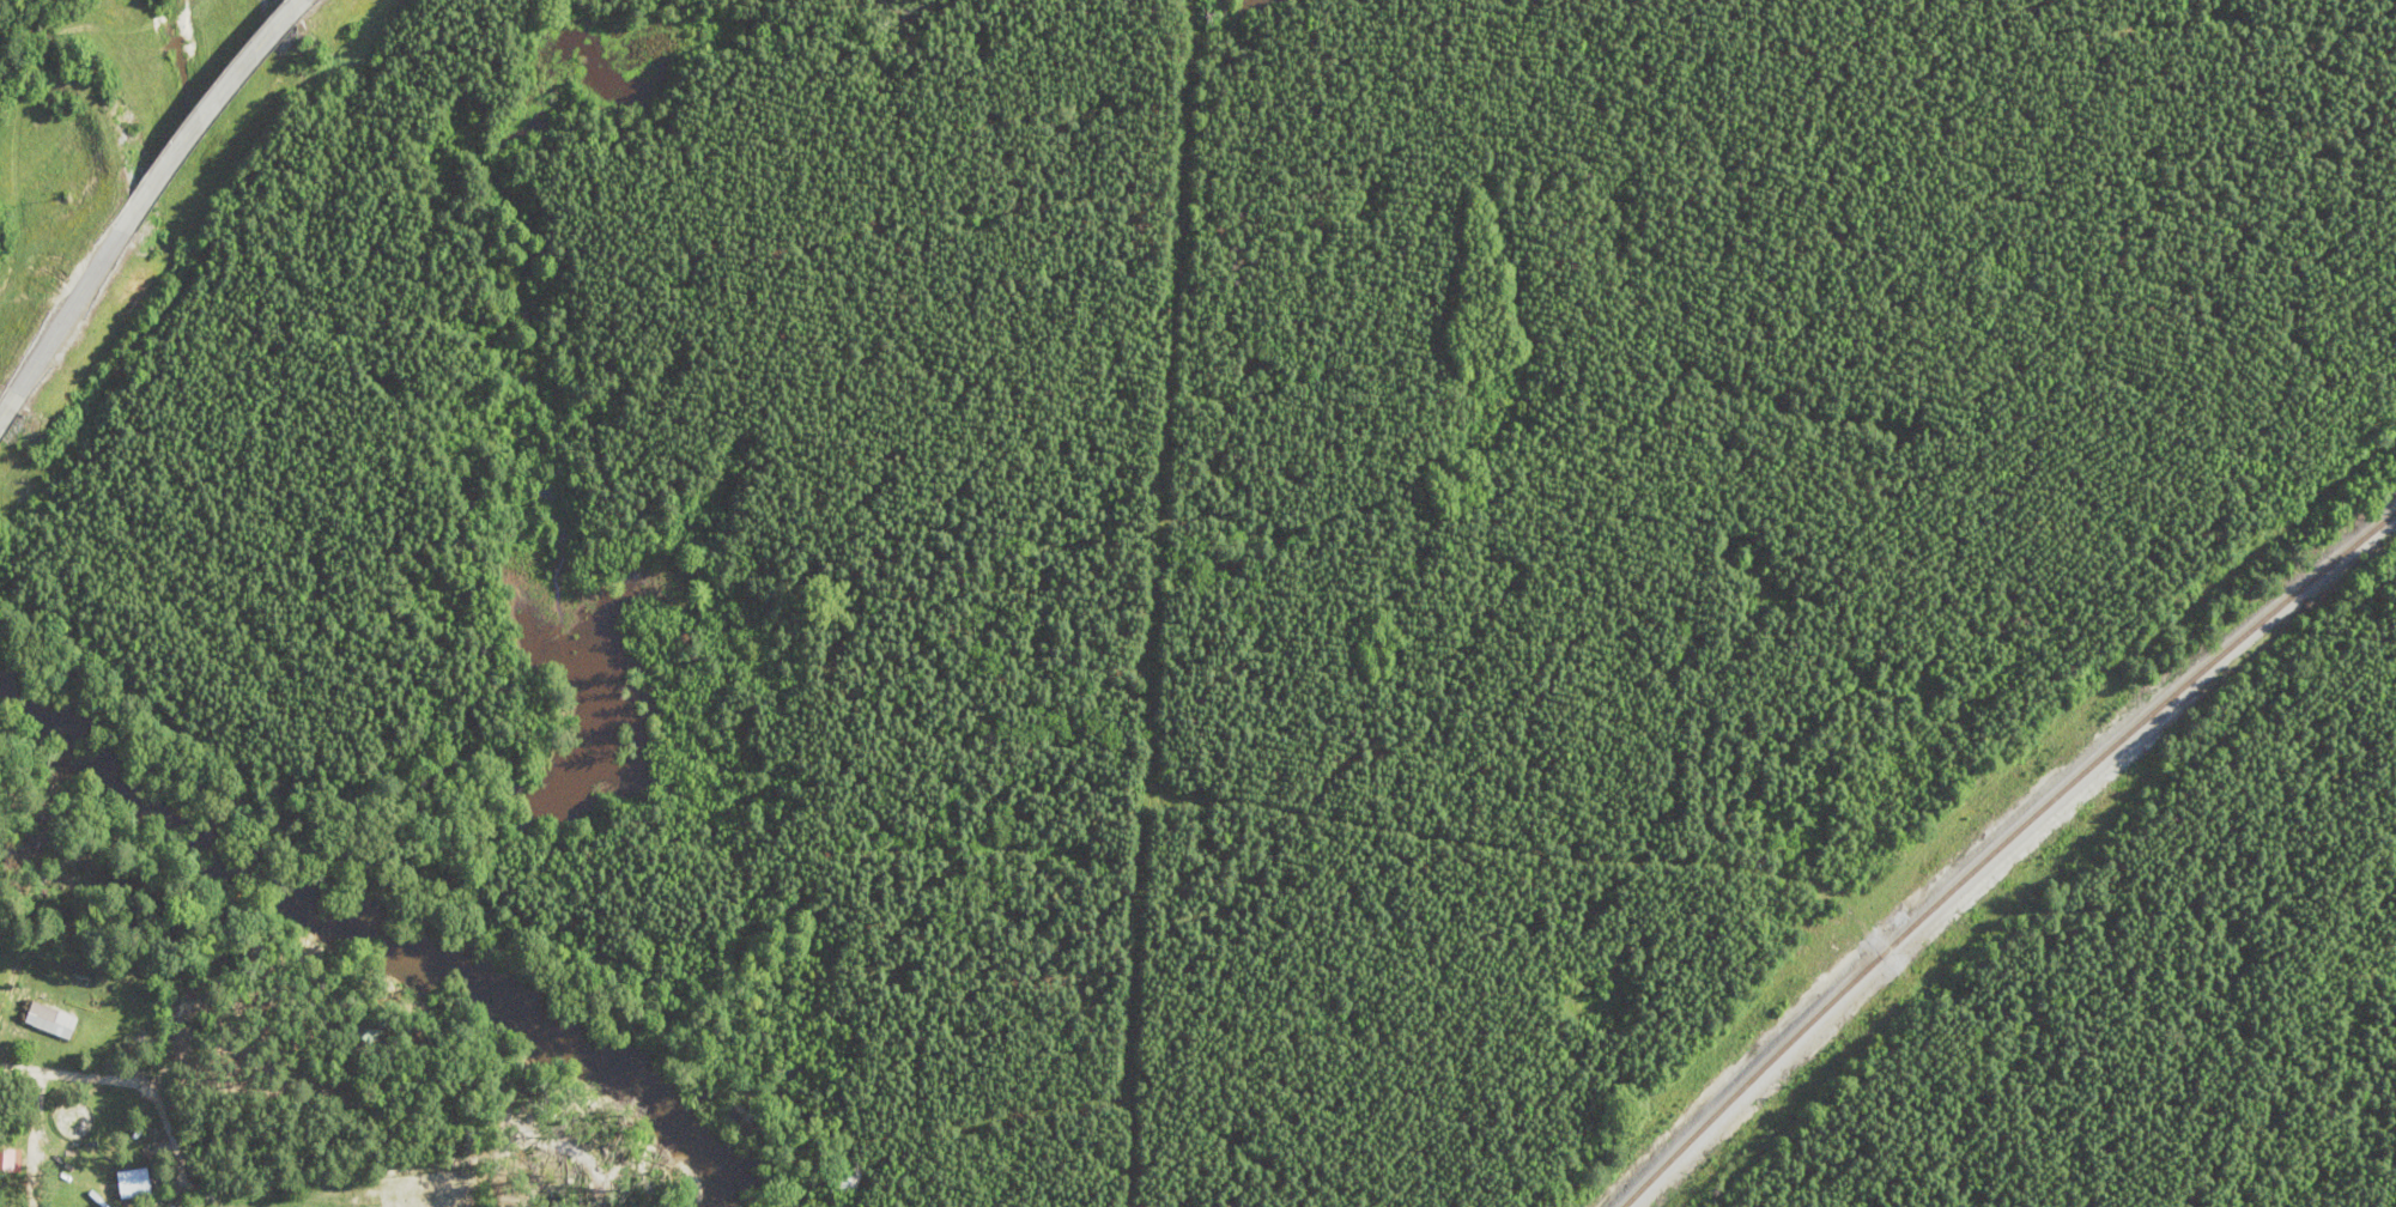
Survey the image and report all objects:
road: (213, 115)
road: (69, 311)
road: (10, 410)
railway: (2003, 827)
river: (383, 939)
building: (53, 1019)
building: (854, 1176)

